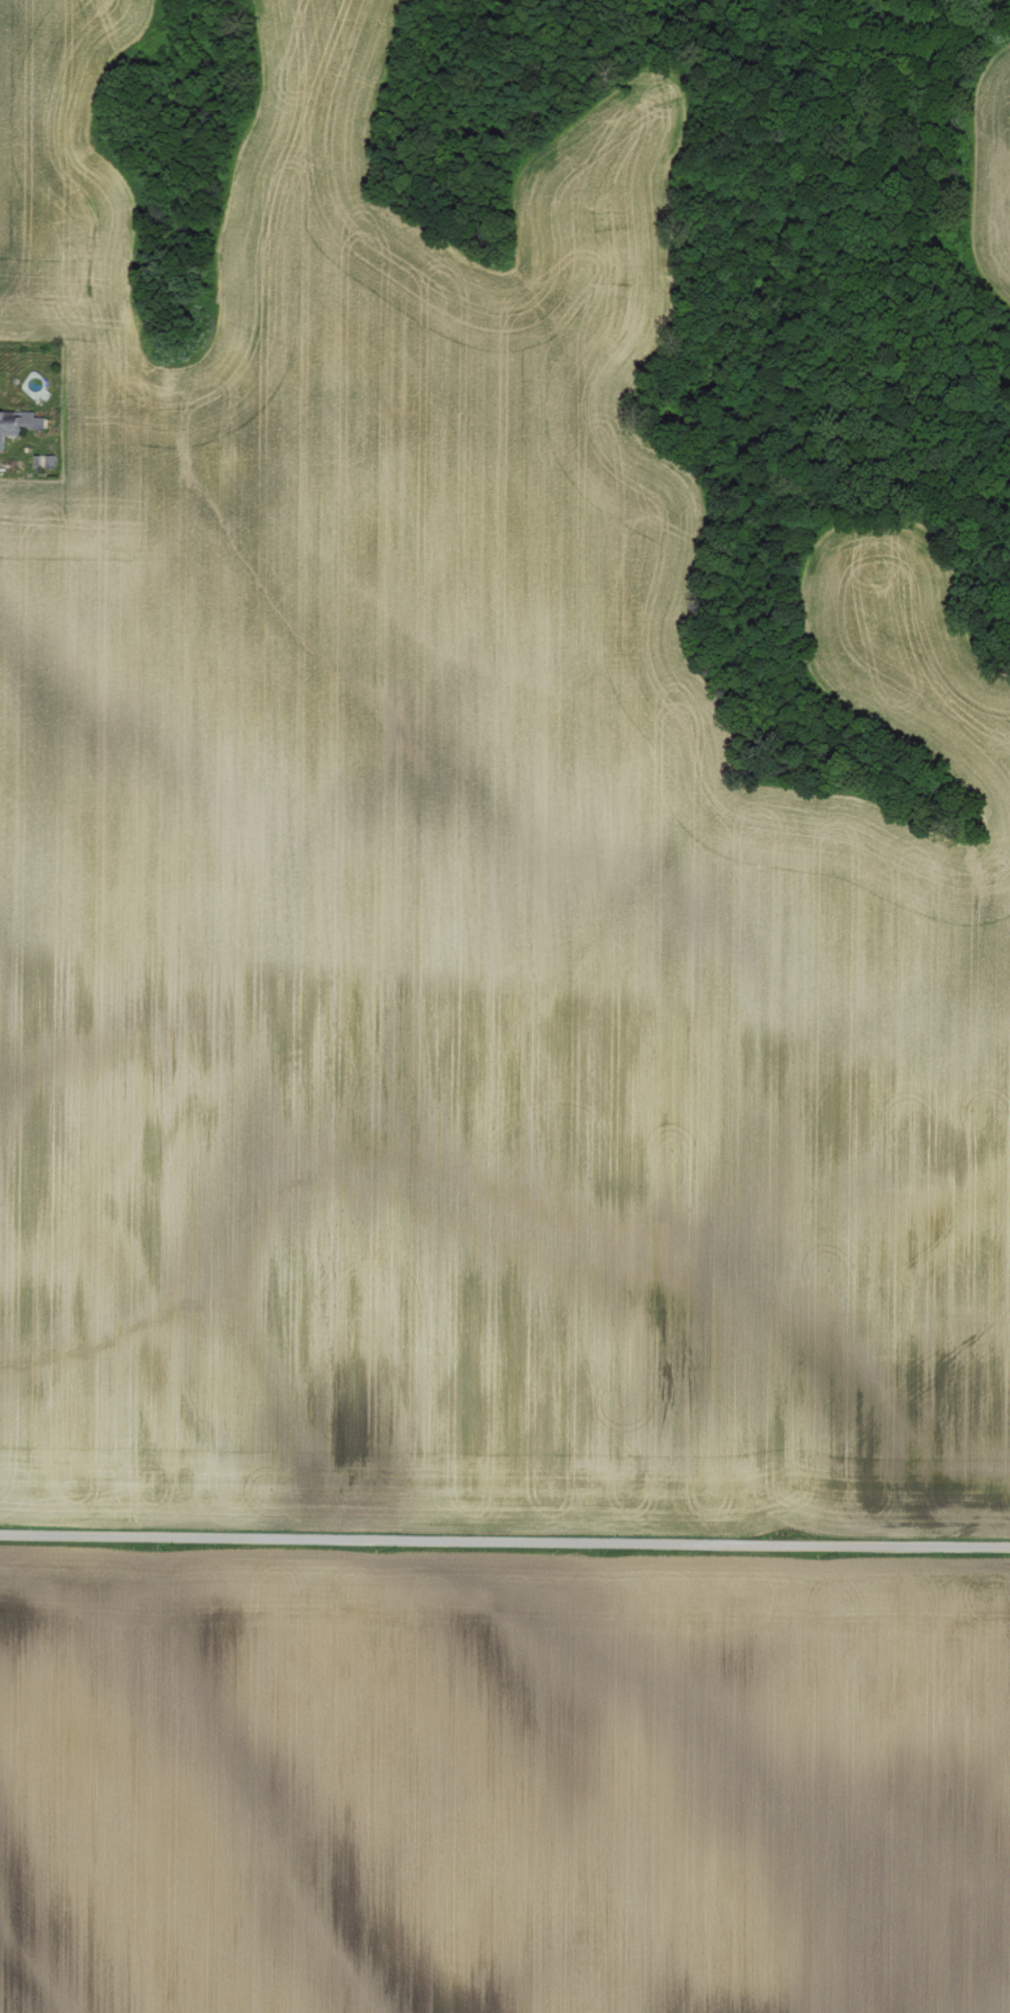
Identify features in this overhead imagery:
road: (15, 453)
road: (504, 1539)

